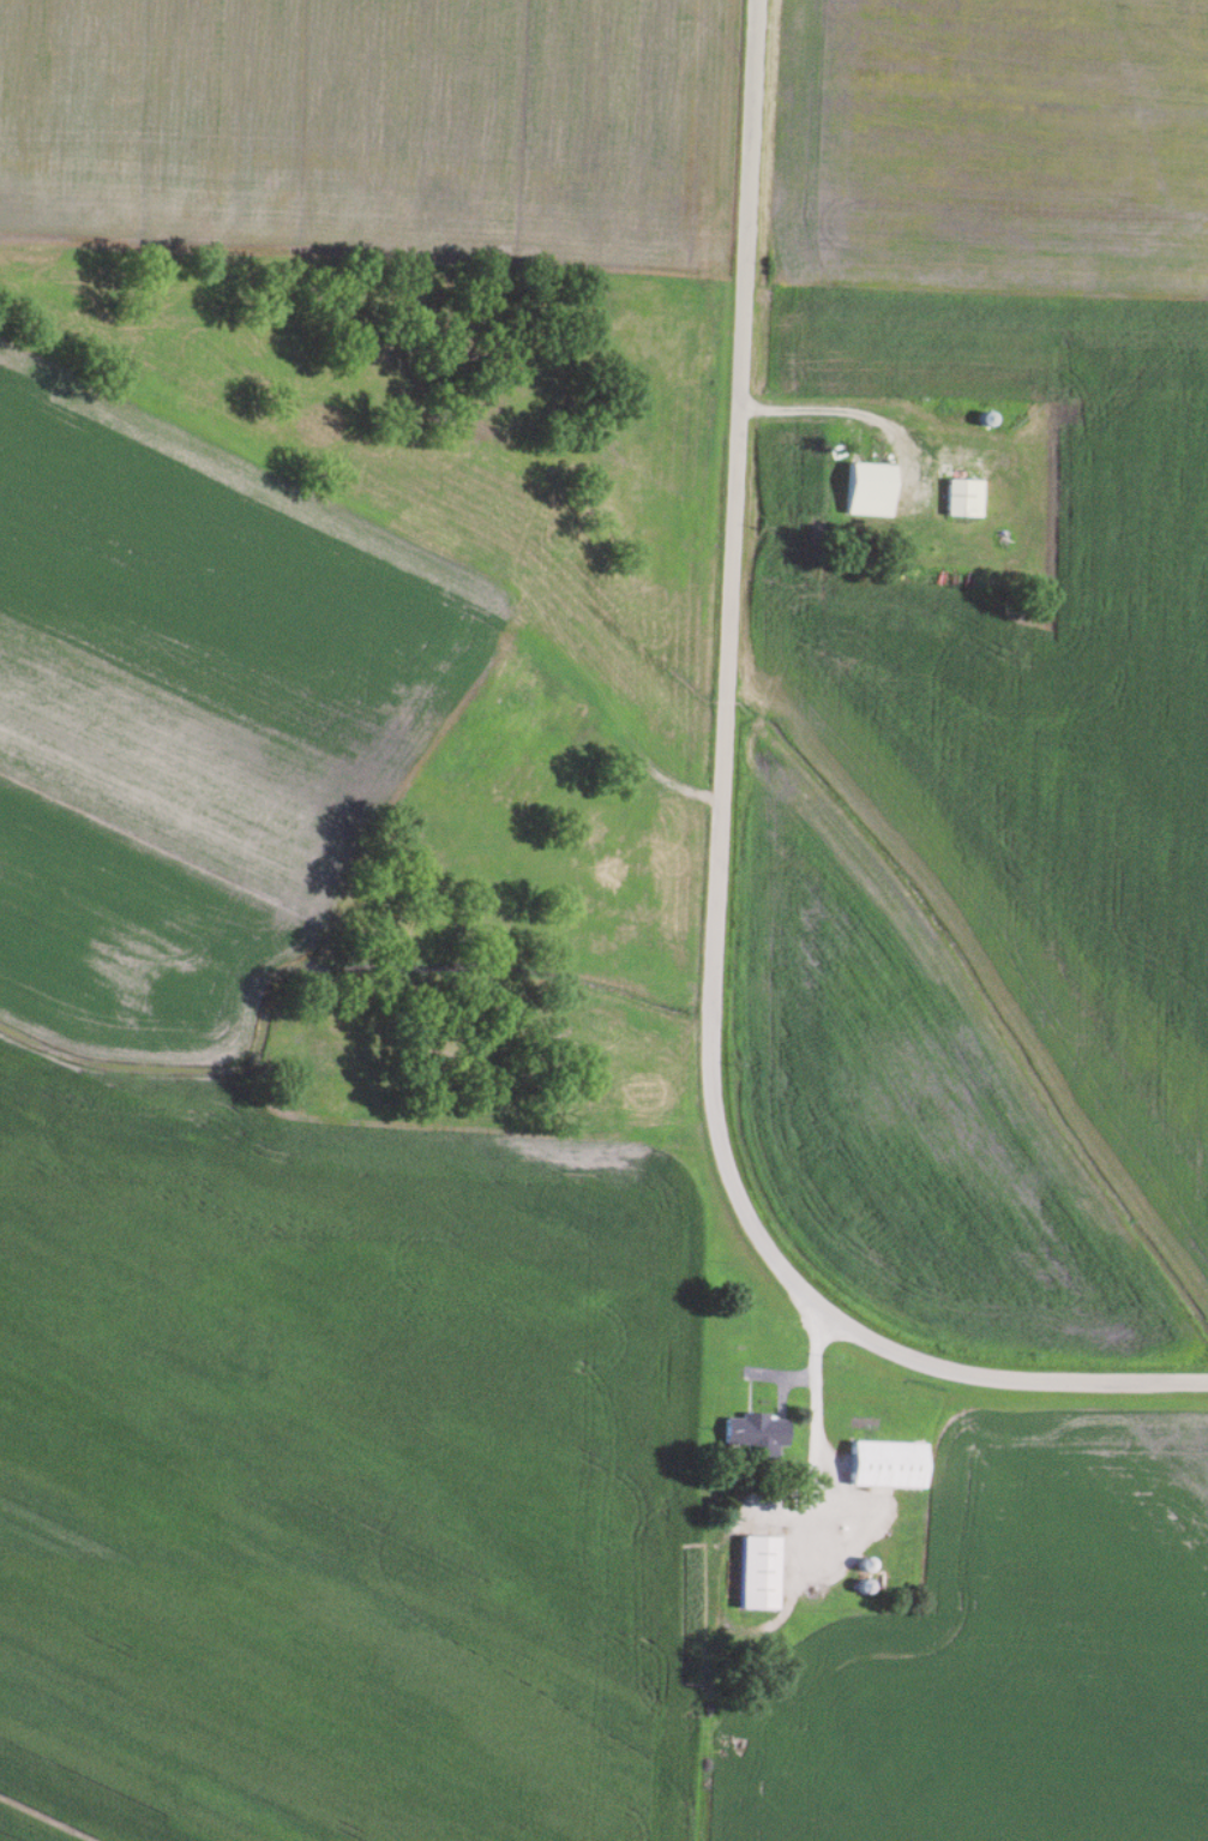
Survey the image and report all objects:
road: (854, 416)
building: (867, 490)
building: (961, 498)
road: (713, 874)
road: (812, 1405)
building: (753, 1433)
building: (884, 1463)
building: (756, 1572)

